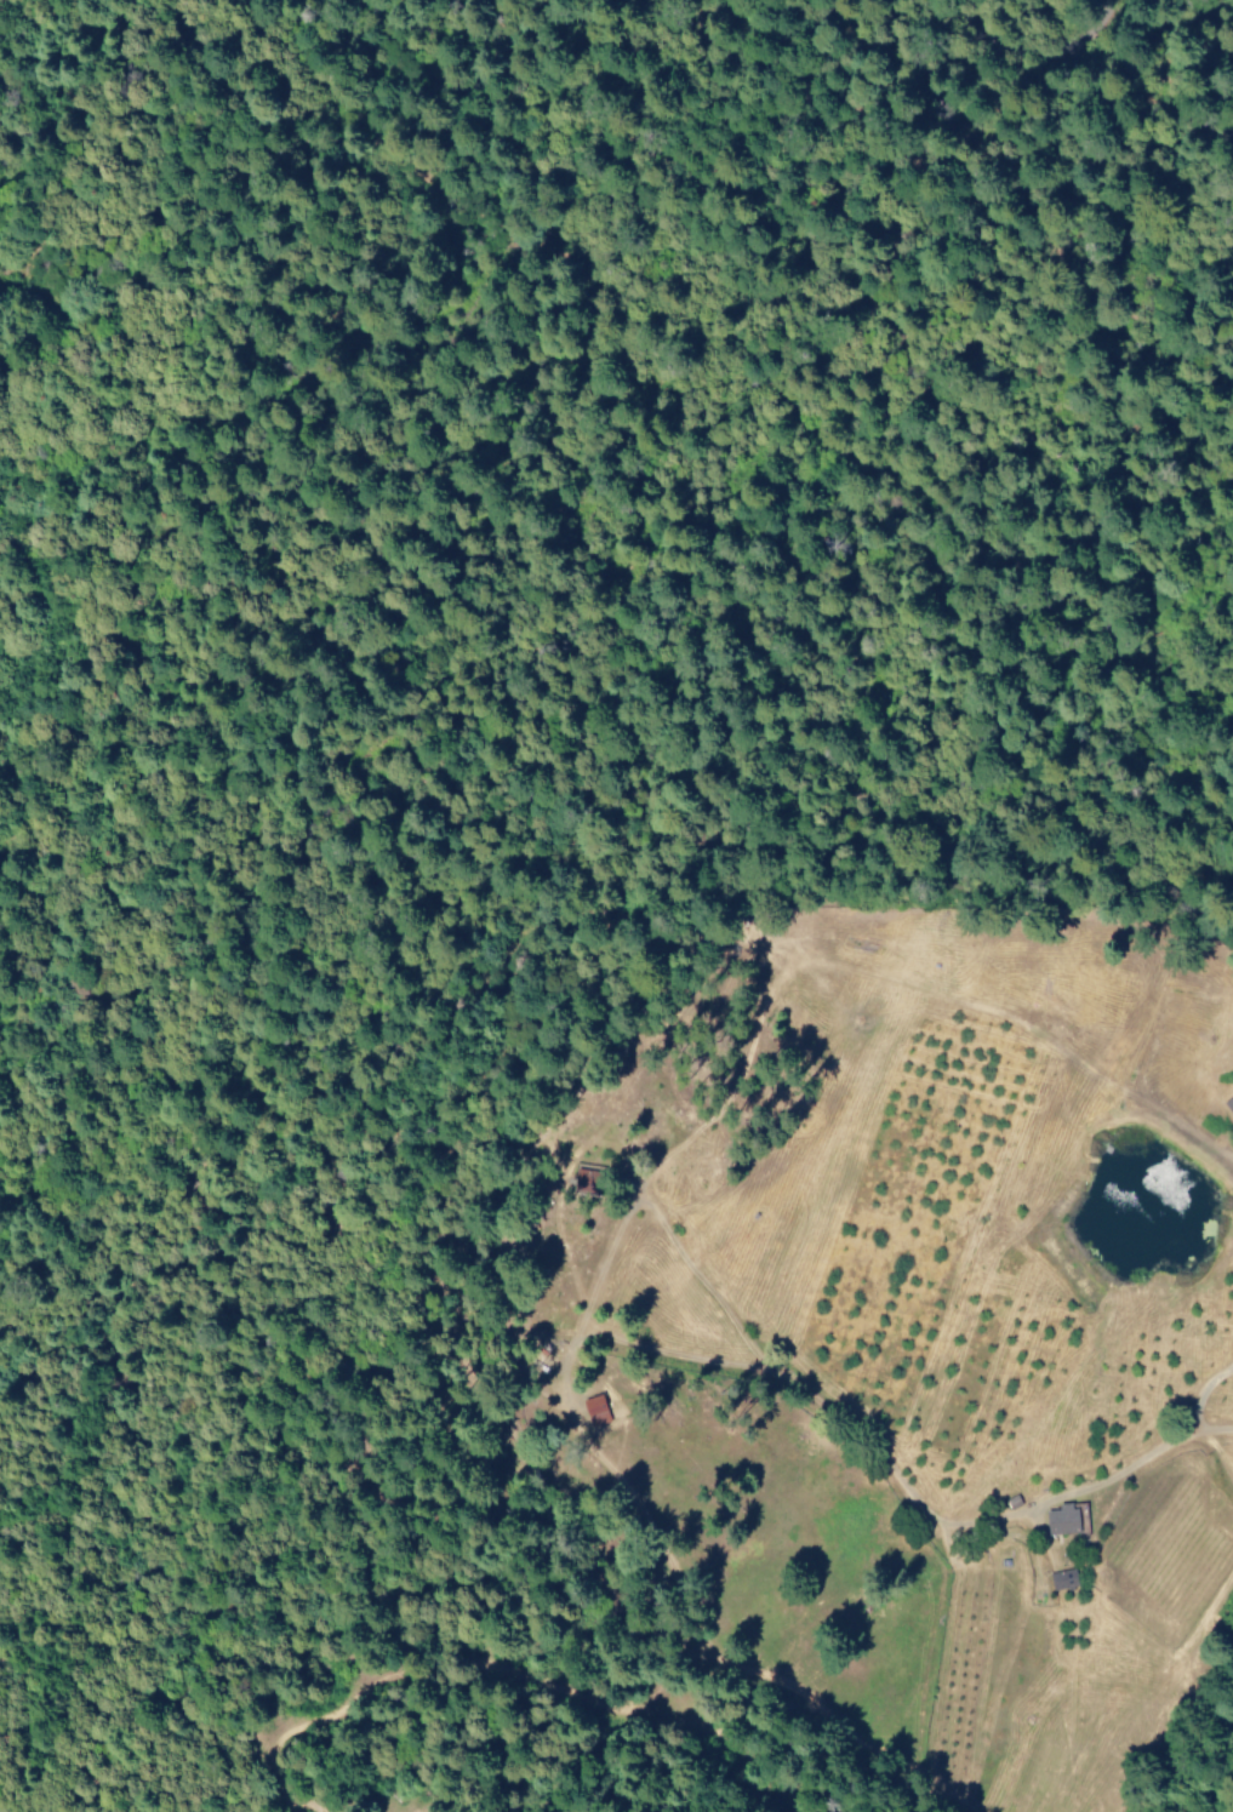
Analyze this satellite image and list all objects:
building: (1228, 1103)
building: (592, 1410)
building: (1058, 1520)
building: (1061, 1581)

